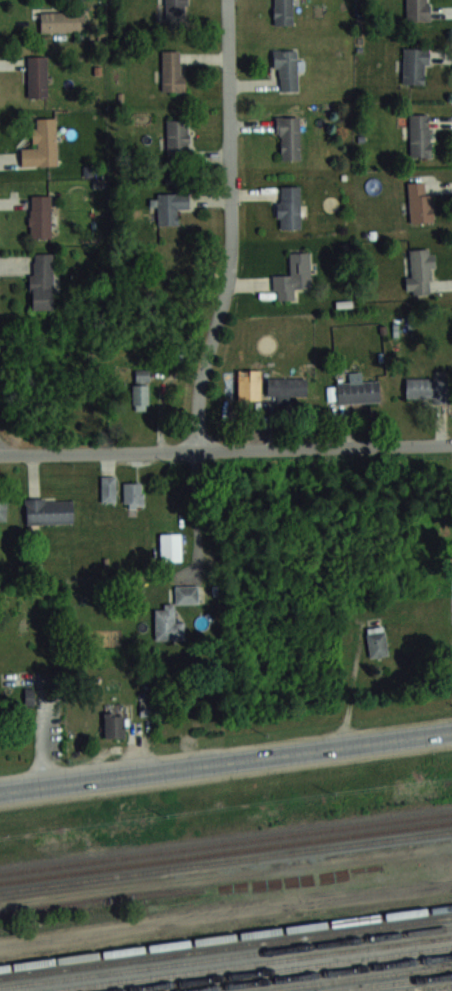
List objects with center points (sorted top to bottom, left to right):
building: (175, 6)
building: (416, 9)
building: (283, 12)
building: (62, 21)
building: (414, 64)
building: (286, 69)
building: (172, 70)
building: (37, 76)
building: (419, 134)
building: (177, 135)
building: (288, 137)
building: (42, 144)
building: (420, 203)
building: (170, 206)
building: (289, 206)
building: (40, 216)
road: (229, 226)
building: (420, 271)
building: (293, 277)
building: (42, 281)
building: (249, 384)
building: (287, 387)
building: (428, 387)
building: (141, 388)
building: (357, 390)
road: (226, 447)
building: (108, 488)
building: (133, 493)
road: (193, 503)
building: (3, 508)
building: (49, 510)
building: (171, 546)
building: (166, 622)
building: (377, 641)
building: (0, 719)
building: (114, 725)
road: (226, 761)
railway: (226, 842)
railway: (226, 851)
railway: (226, 861)
railway: (226, 937)
railway: (225, 946)
railway: (226, 956)
railway: (246, 963)
railway: (282, 968)
railway: (323, 973)
railway: (356, 978)
railway: (389, 982)
railway: (429, 987)

